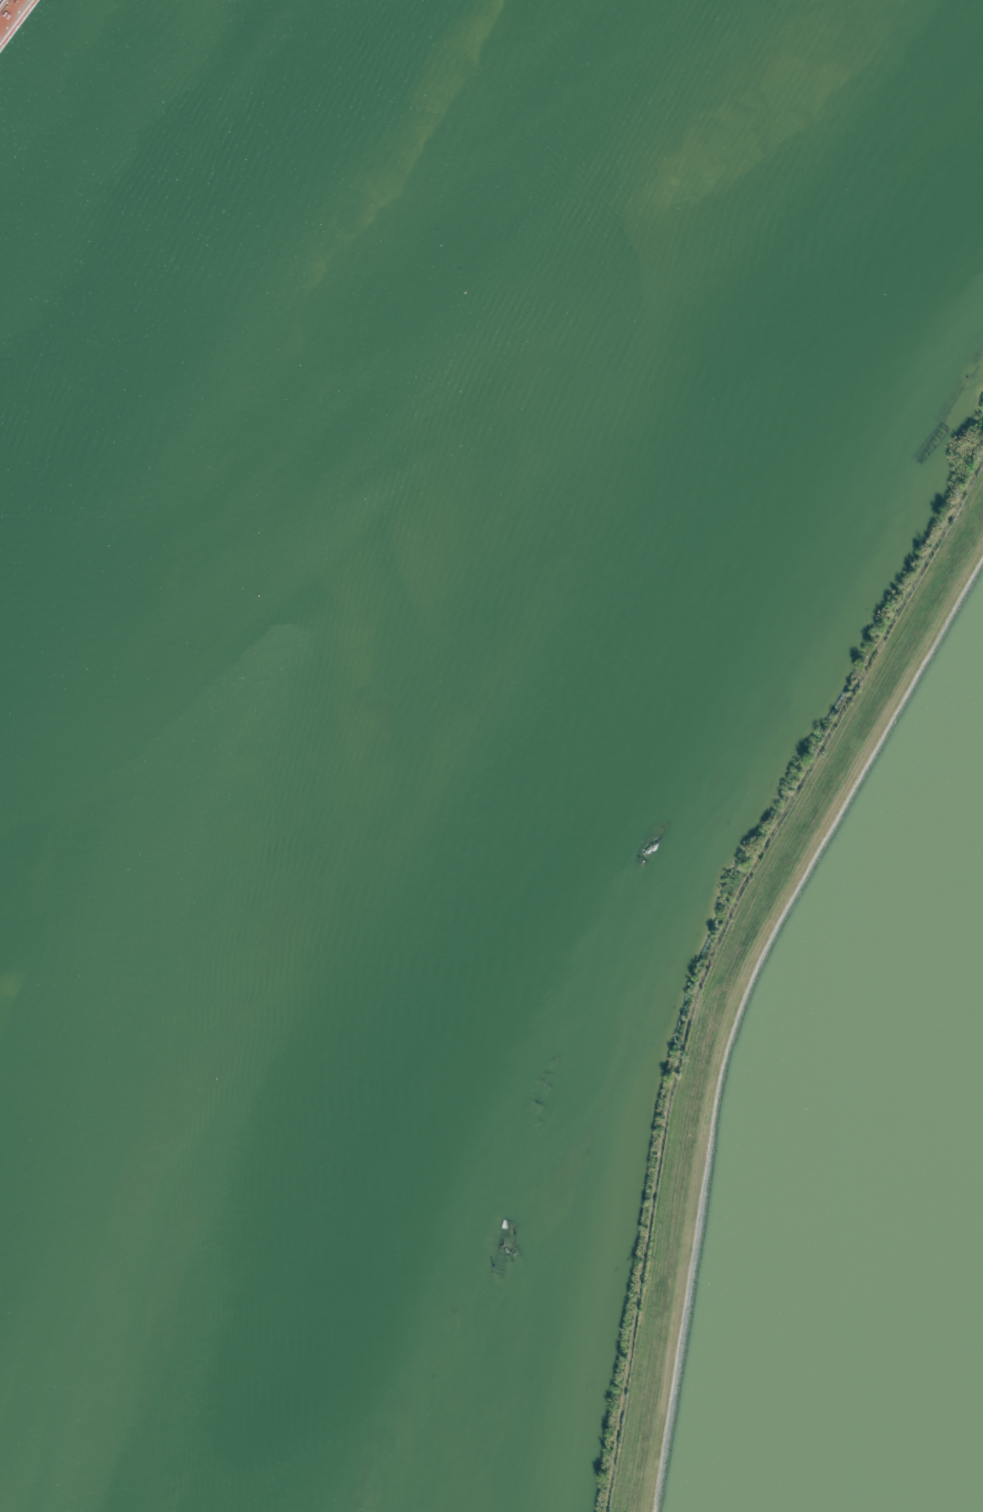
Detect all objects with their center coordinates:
river: (290, 678)

